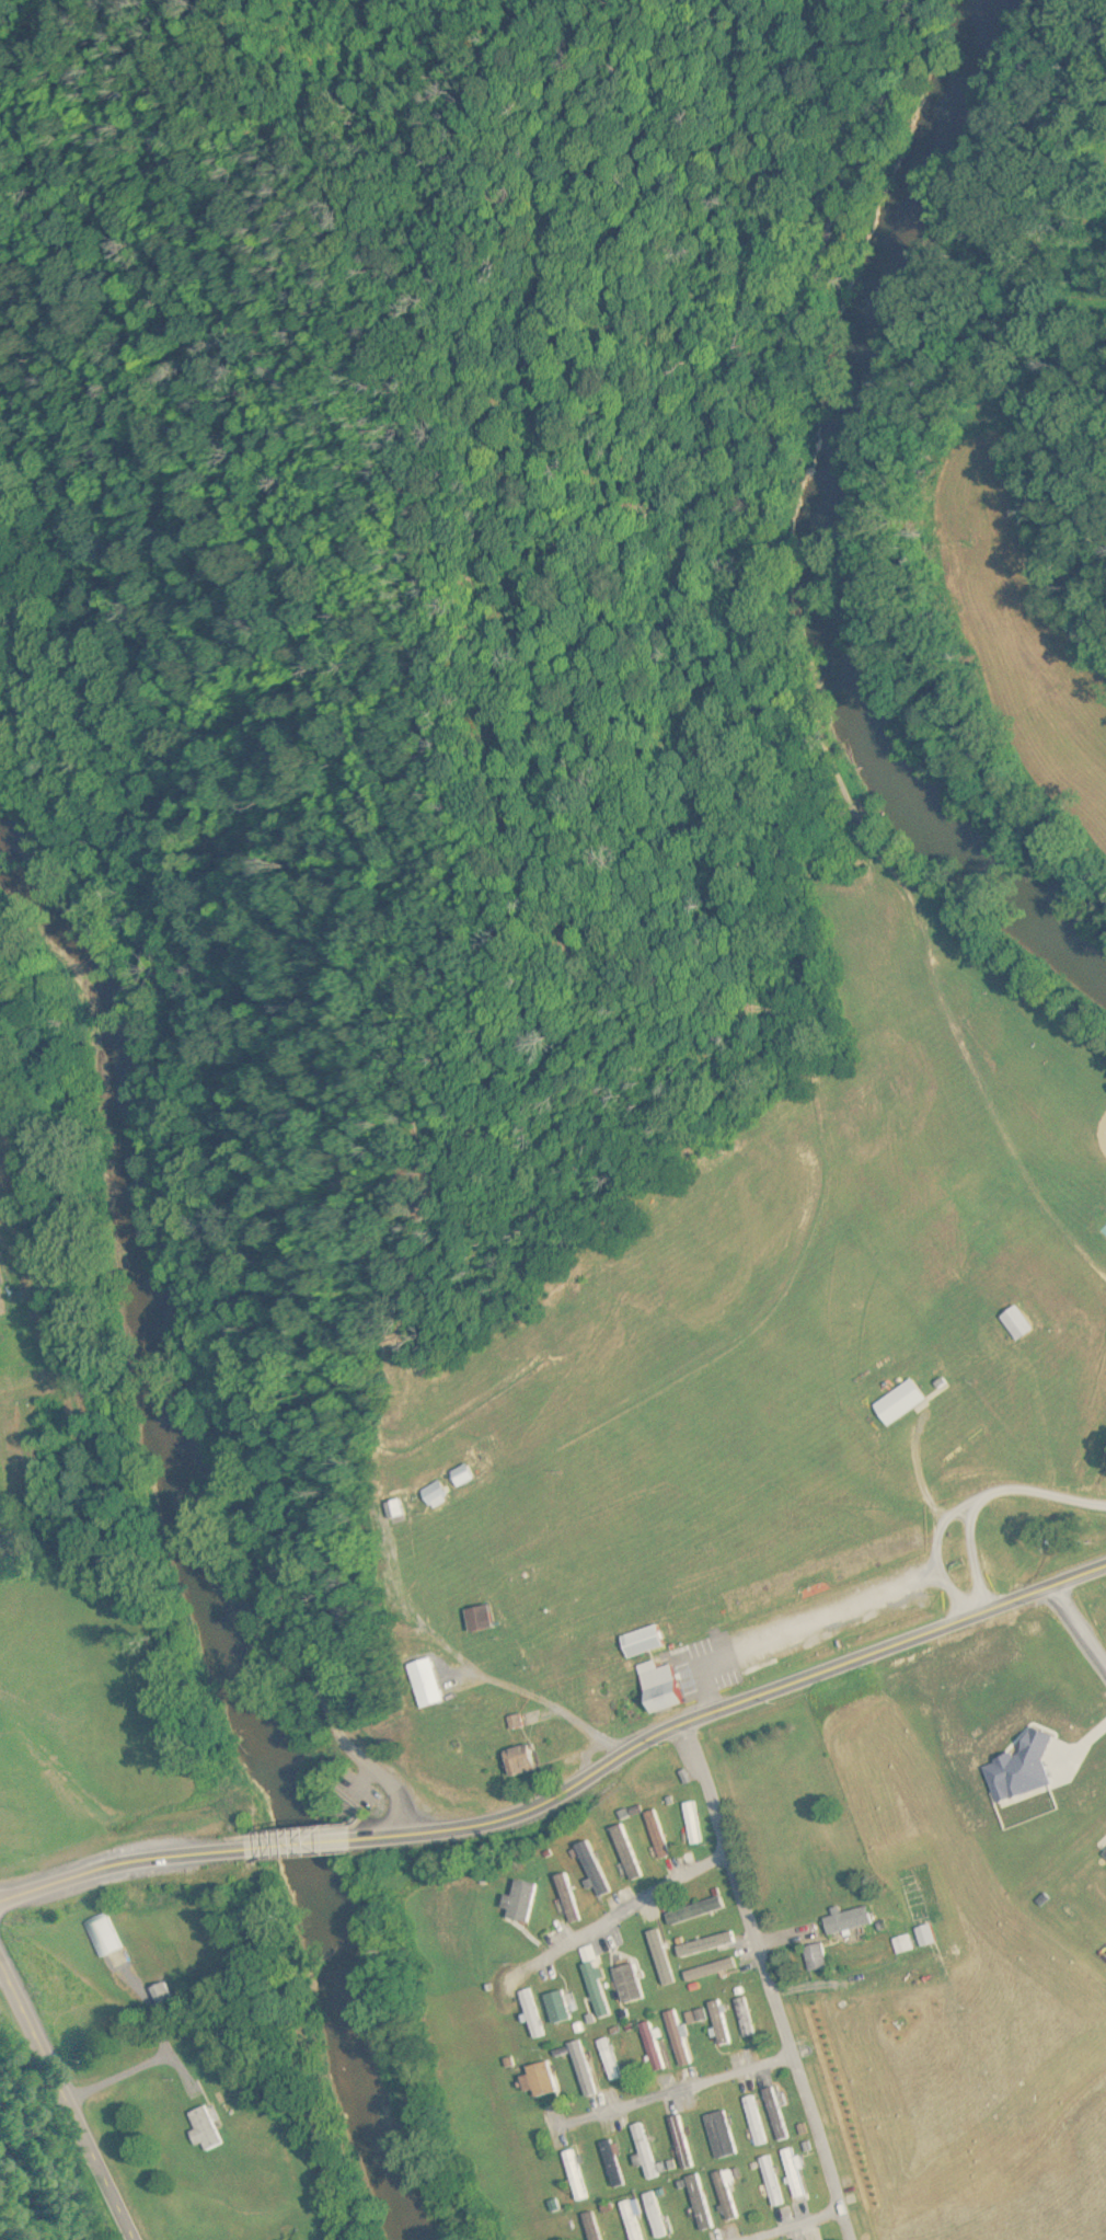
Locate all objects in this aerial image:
river: (820, 530)
park: (531, 850)
road: (199, 1297)
road: (986, 1497)
road: (972, 1501)
river: (210, 1523)
road: (940, 1559)
parking lot: (803, 1628)
road: (1080, 1629)
road: (798, 1632)
road: (724, 1711)
parking lot: (371, 1802)
road: (272, 1845)
road: (97, 1870)
road: (621, 1917)
road: (2, 1977)
road: (767, 1983)
road: (136, 2070)
road: (672, 2093)
road: (67, 2104)
road: (796, 2226)

